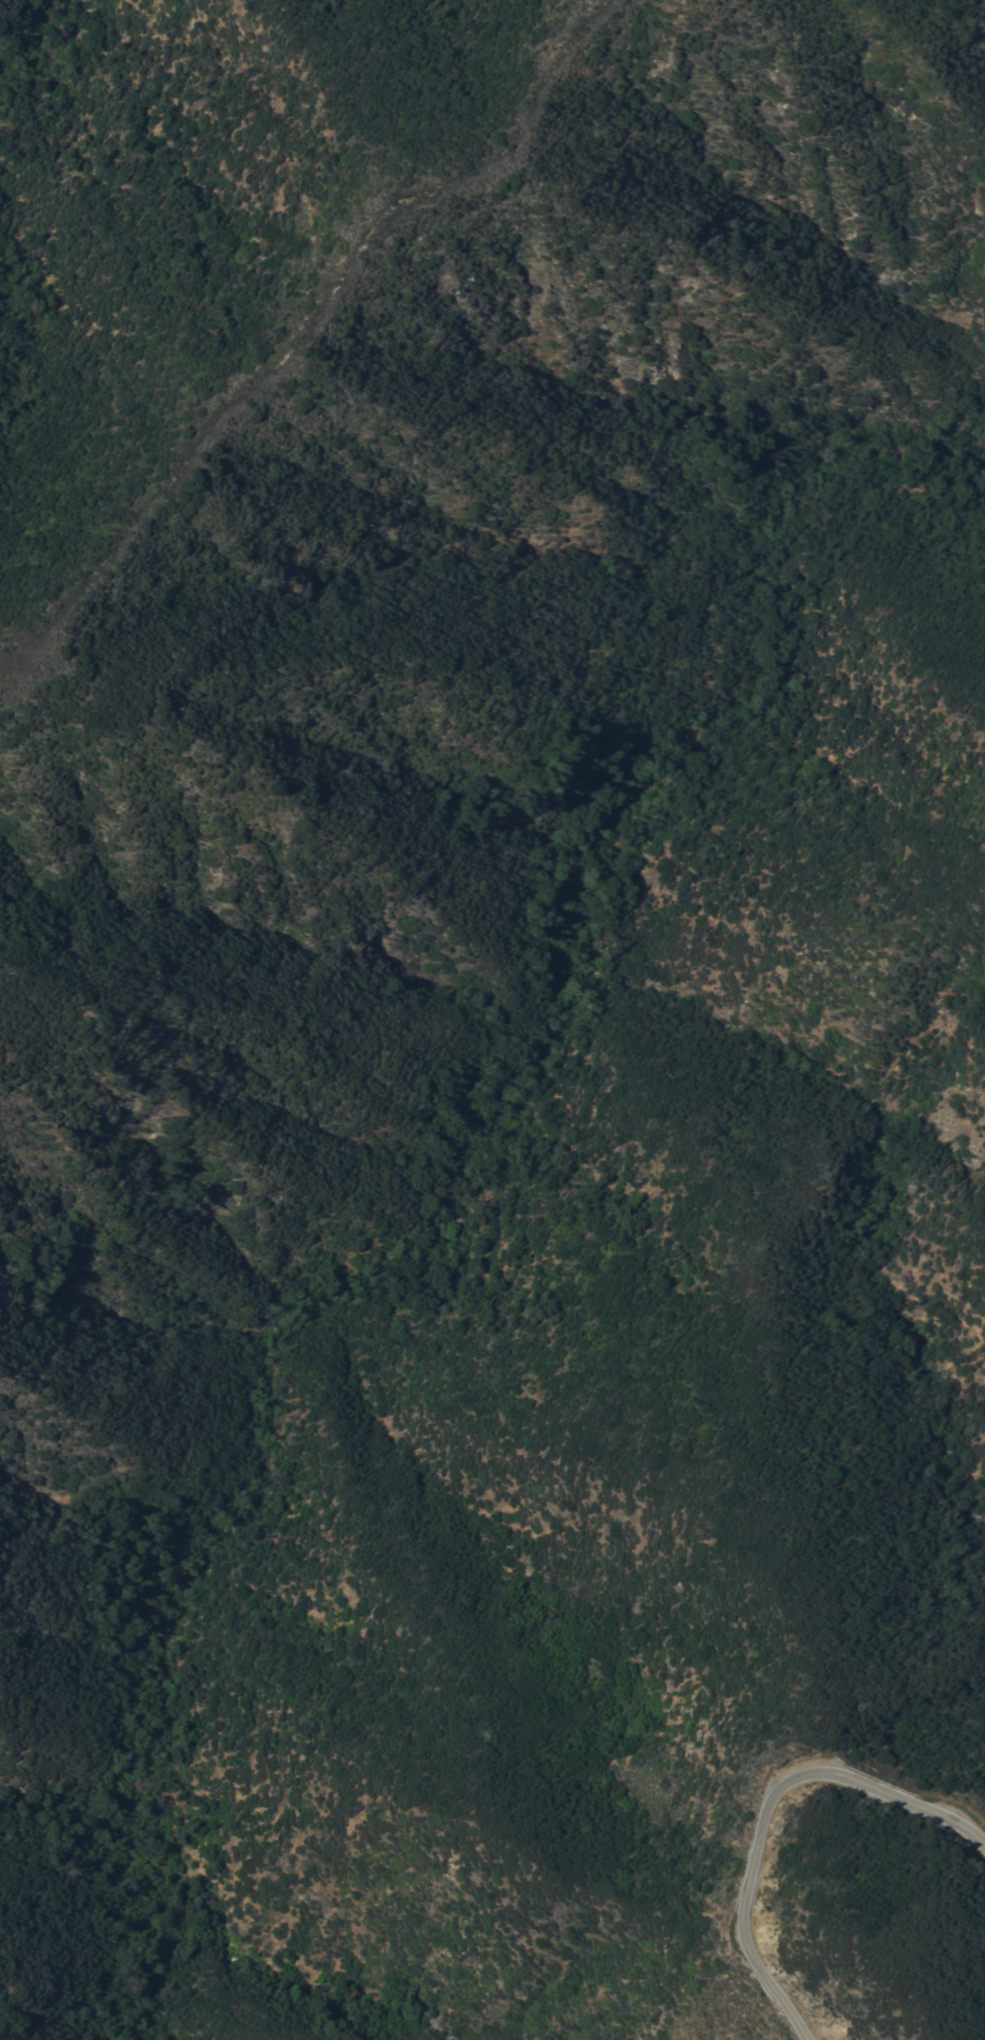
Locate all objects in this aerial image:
road: (767, 1809)

